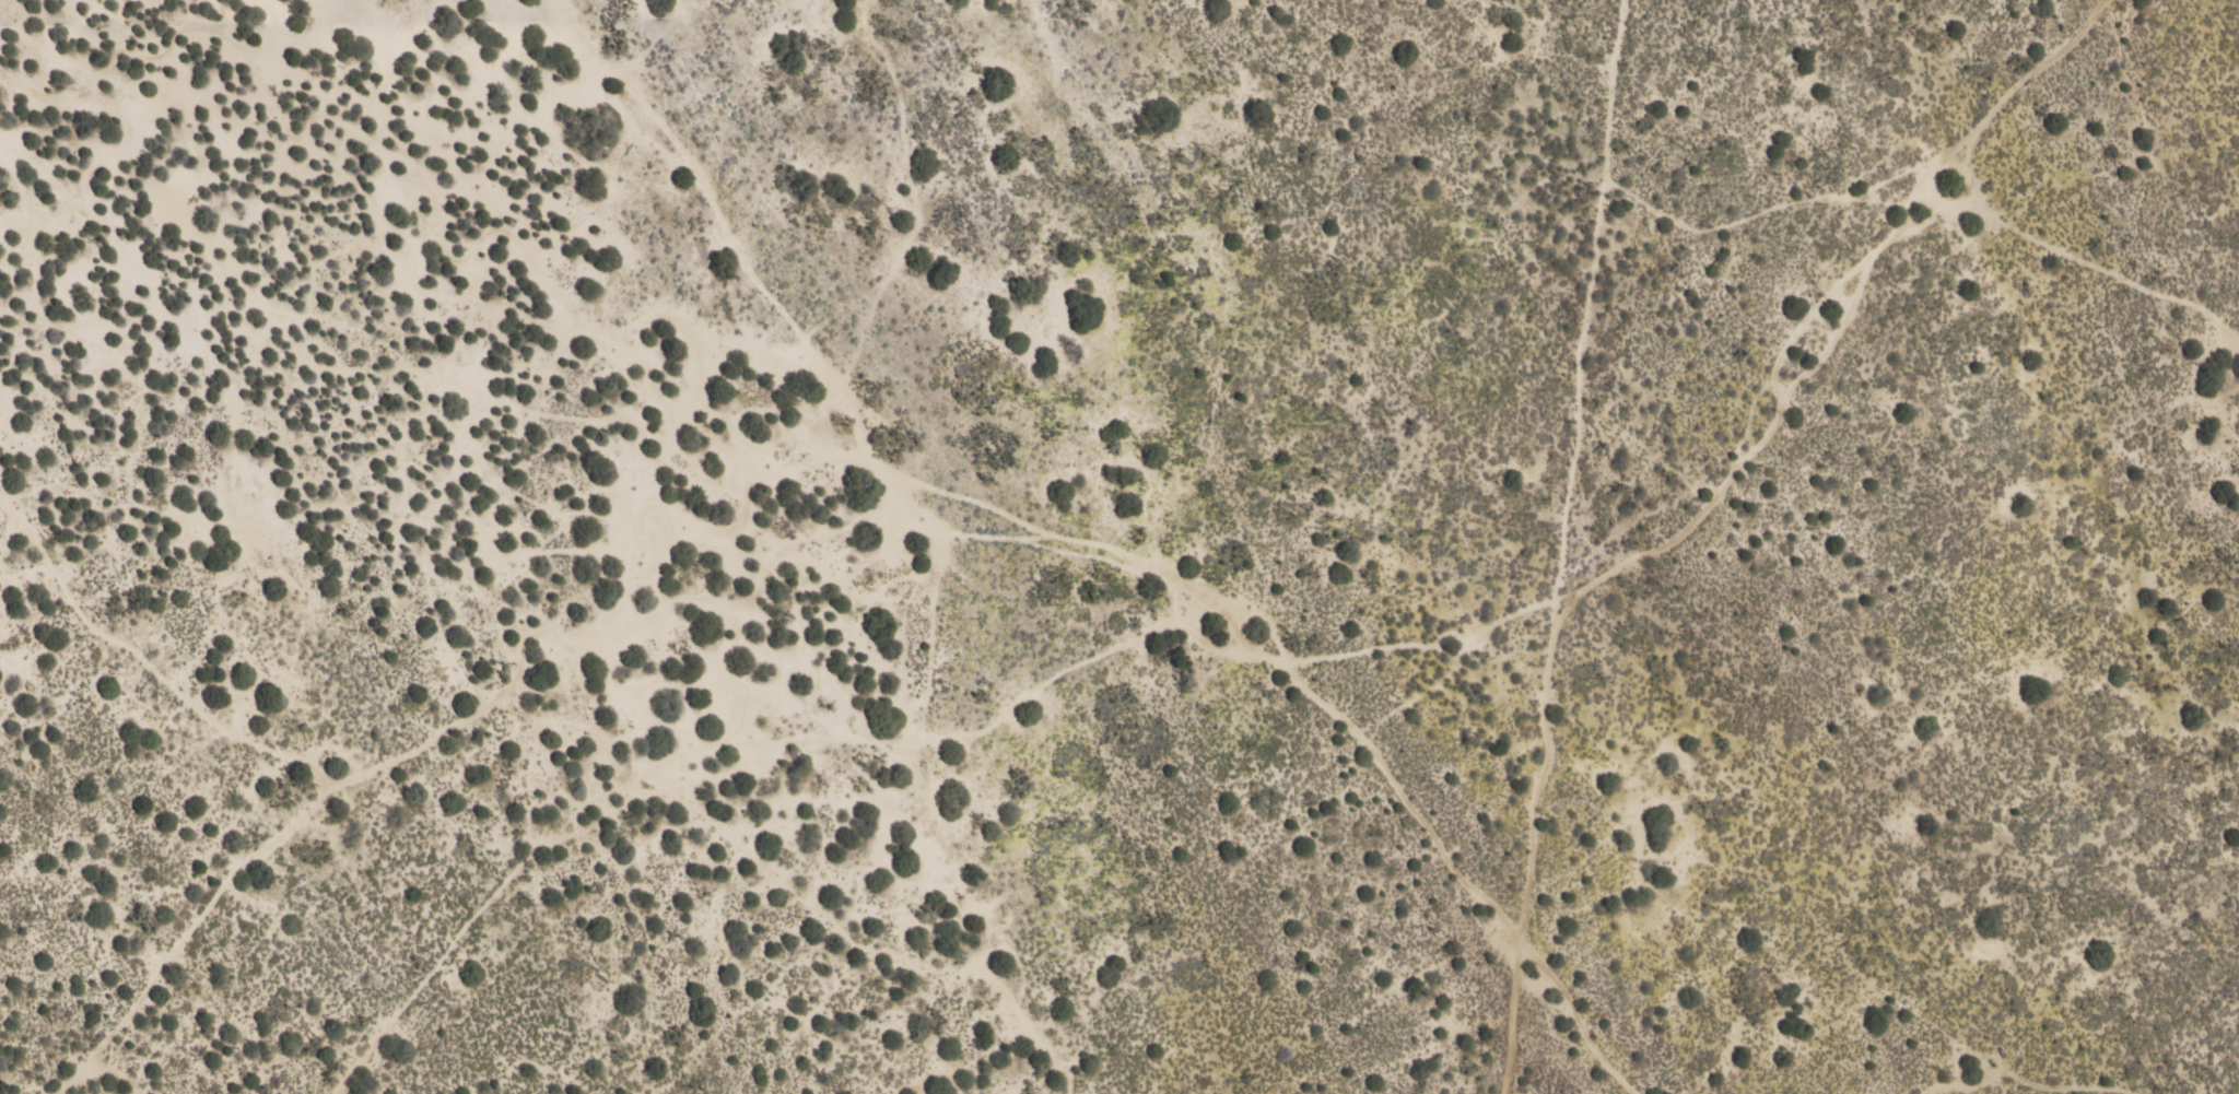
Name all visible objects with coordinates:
road: (1531, 855)

